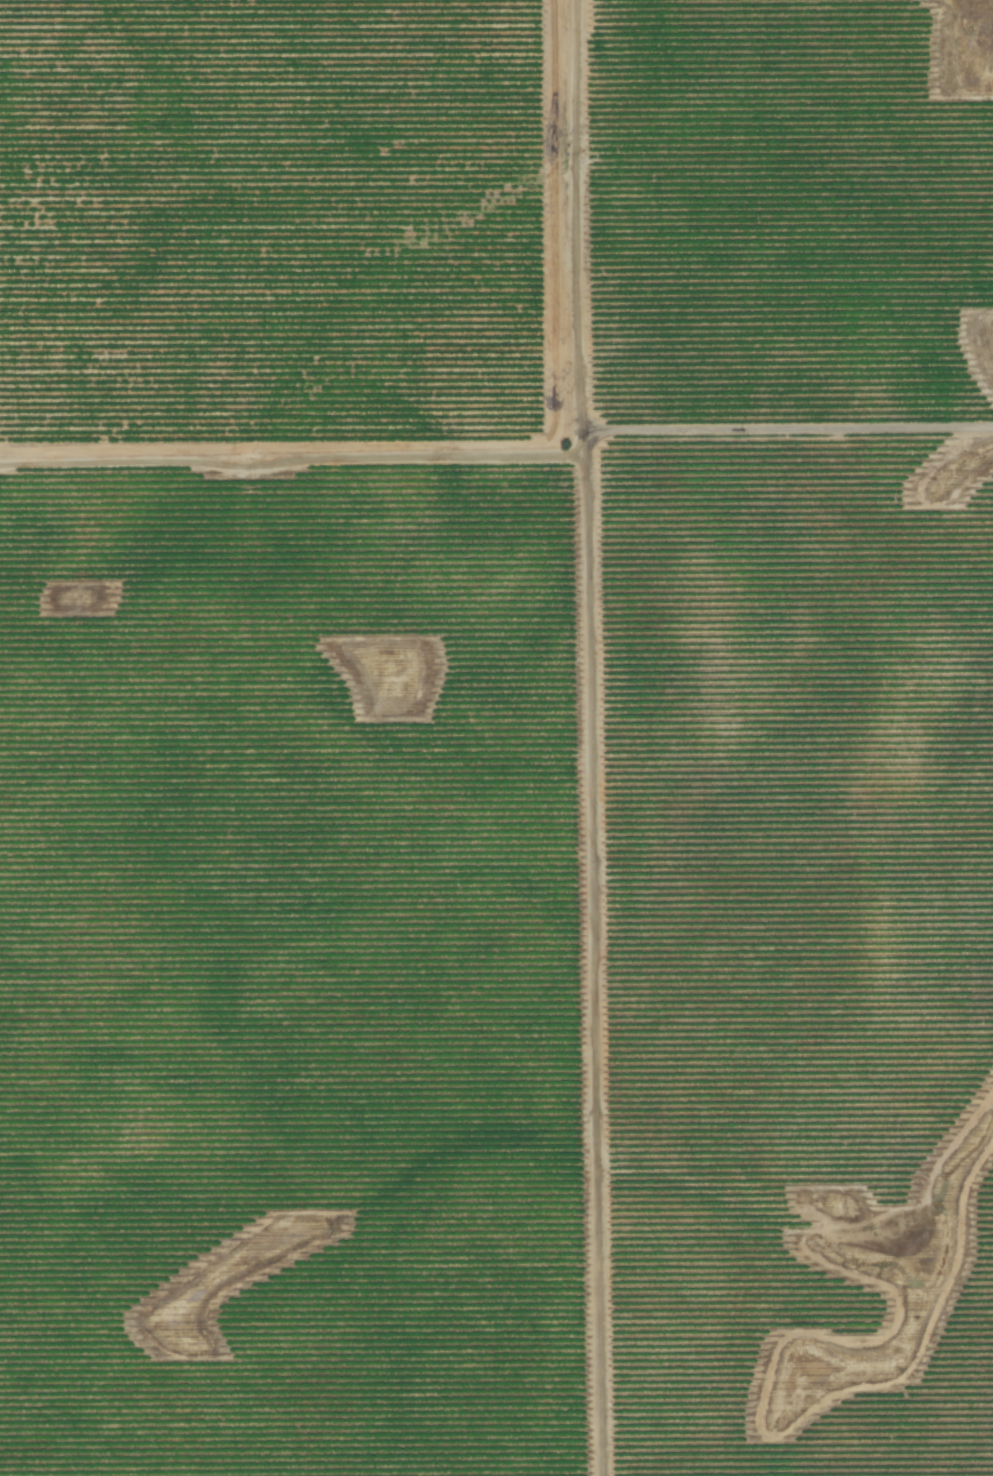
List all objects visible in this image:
crop: (495, 222)

